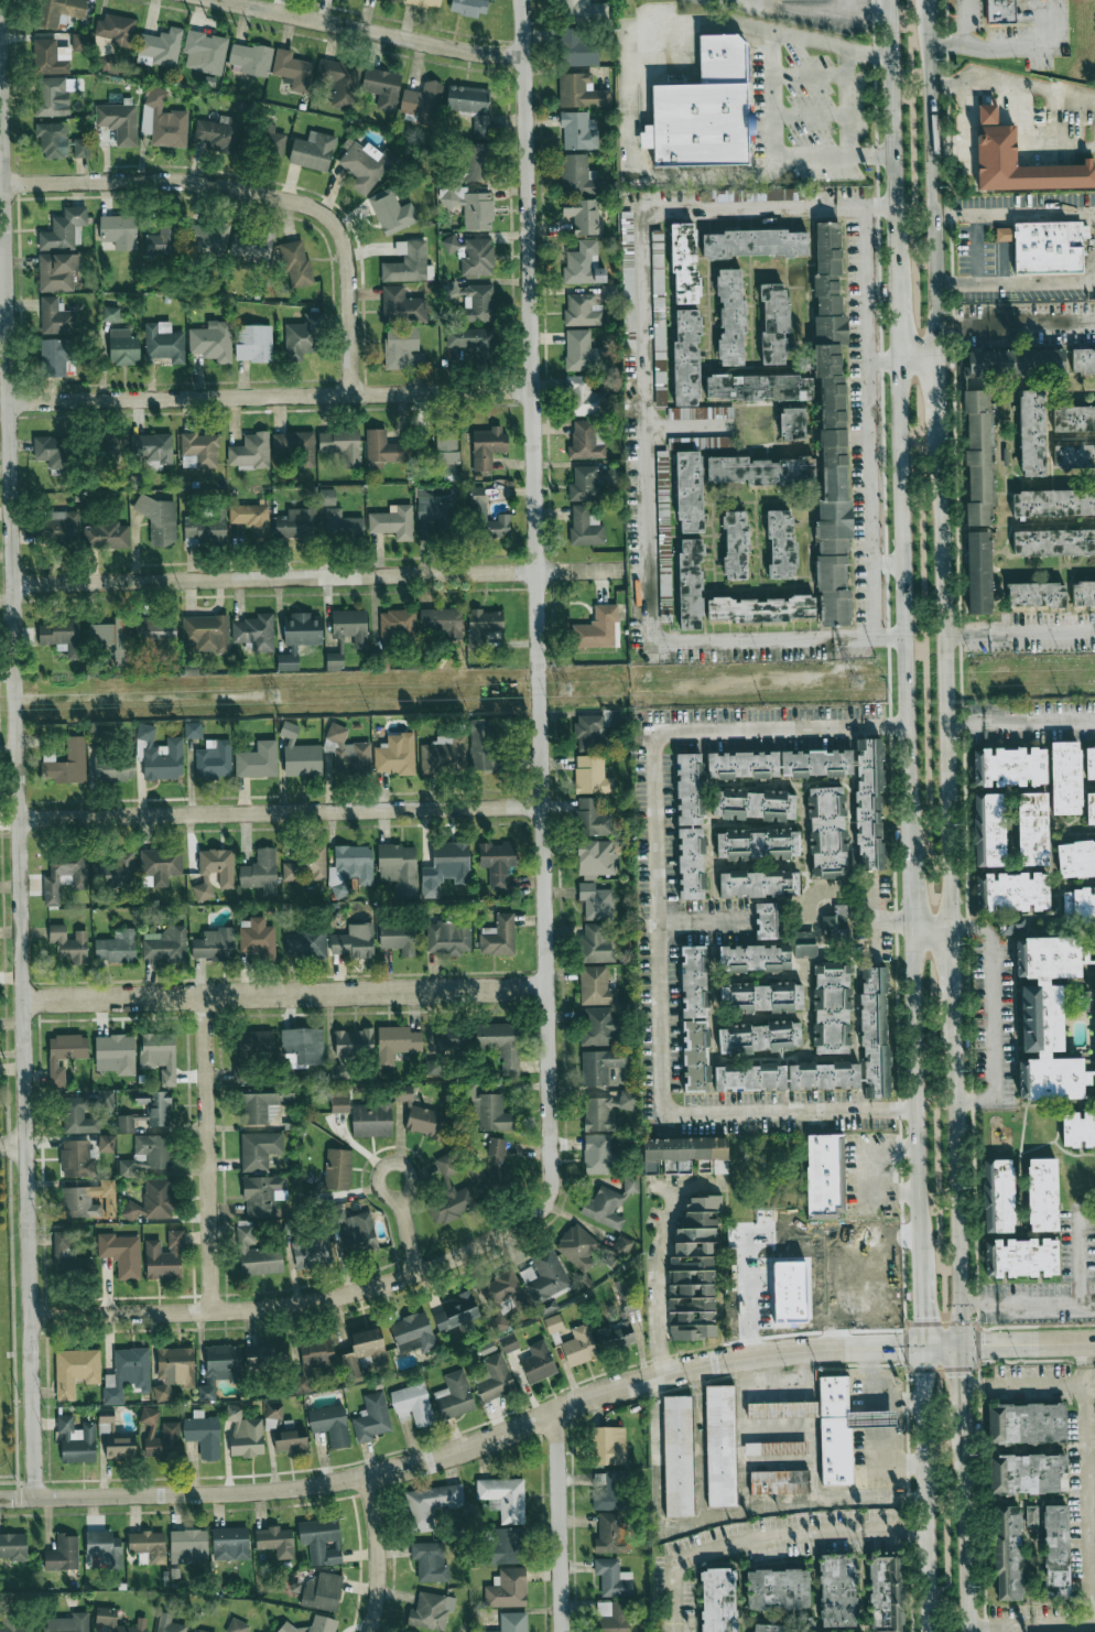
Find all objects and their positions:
building: (398, 0)
building: (425, 2)
road: (848, 4)
road: (754, 6)
building: (469, 7)
building: (59, 10)
road: (835, 10)
building: (583, 11)
building: (1000, 12)
road: (921, 13)
road: (963, 21)
building: (117, 29)
road: (370, 30)
building: (79, 42)
road: (1013, 45)
building: (160, 47)
building: (577, 47)
building: (204, 52)
building: (51, 57)
building: (250, 60)
building: (107, 64)
building: (292, 69)
road: (892, 77)
building: (339, 79)
road: (978, 82)
building: (381, 87)
building: (581, 91)
road: (1060, 93)
building: (53, 96)
building: (467, 98)
building: (422, 104)
road: (629, 109)
building: (703, 109)
building: (163, 120)
building: (119, 122)
building: (480, 126)
building: (577, 131)
road: (965, 131)
building: (218, 133)
building: (53, 139)
building: (273, 142)
building: (996, 144)
road: (1032, 144)
building: (82, 148)
building: (312, 151)
building: (474, 162)
building: (366, 165)
building: (577, 175)
road: (932, 179)
road: (258, 192)
building: (751, 194)
building: (469, 206)
road: (772, 210)
building: (391, 212)
road: (1013, 213)
building: (583, 215)
road: (896, 224)
building: (64, 229)
building: (119, 230)
building: (164, 240)
building: (207, 240)
building: (755, 242)
building: (250, 245)
building: (1045, 246)
road: (976, 249)
building: (471, 255)
building: (408, 262)
building: (296, 263)
building: (583, 263)
building: (684, 263)
building: (57, 271)
building: (628, 283)
road: (1016, 283)
building: (609, 292)
building: (470, 301)
building: (401, 306)
building: (582, 310)
building: (110, 314)
building: (55, 316)
building: (730, 316)
building: (773, 323)
road: (1016, 324)
road: (899, 325)
road: (3, 327)
building: (302, 337)
building: (212, 341)
building: (164, 342)
building: (474, 342)
building: (252, 343)
building: (123, 347)
building: (402, 348)
building: (581, 352)
building: (55, 356)
road: (887, 356)
building: (686, 357)
road: (919, 358)
building: (1083, 360)
building: (1016, 361)
building: (758, 387)
road: (937, 388)
road: (270, 396)
building: (584, 397)
building: (690, 412)
building: (1074, 419)
road: (875, 422)
building: (791, 423)
road: (654, 425)
building: (831, 425)
building: (1032, 432)
building: (585, 442)
building: (110, 445)
building: (341, 445)
building: (445, 445)
building: (295, 446)
building: (487, 446)
building: (384, 447)
building: (153, 448)
building: (200, 448)
building: (51, 451)
building: (250, 451)
building: (1074, 456)
building: (978, 458)
road: (902, 461)
building: (760, 471)
building: (611, 475)
building: (584, 484)
building: (687, 485)
building: (326, 497)
building: (477, 500)
building: (1053, 502)
building: (435, 509)
building: (251, 519)
building: (159, 520)
building: (393, 521)
building: (296, 523)
building: (341, 523)
building: (203, 527)
building: (585, 527)
building: (425, 529)
building: (109, 536)
building: (1053, 542)
building: (735, 544)
building: (781, 544)
road: (891, 561)
building: (978, 572)
road: (318, 576)
building: (690, 584)
building: (1083, 593)
building: (1036, 595)
building: (760, 608)
building: (441, 622)
building: (397, 624)
building: (350, 626)
building: (483, 626)
building: (599, 628)
building: (156, 633)
building: (206, 633)
building: (254, 633)
road: (1019, 633)
building: (61, 635)
building: (299, 636)
road: (768, 637)
building: (112, 639)
building: (334, 661)
road: (945, 670)
road: (535, 676)
power tower: (847, 683)
power tower: (567, 689)
power tower: (275, 694)
road: (908, 699)
road: (1020, 718)
building: (595, 728)
building: (193, 729)
building: (484, 745)
road: (20, 747)
building: (348, 750)
building: (444, 754)
building: (160, 755)
building: (395, 755)
building: (214, 758)
building: (257, 760)
building: (67, 761)
building: (1089, 763)
building: (815, 764)
building: (742, 765)
building: (112, 766)
building: (1009, 767)
building: (588, 774)
building: (1065, 778)
building: (689, 789)
building: (868, 803)
building: (752, 804)
building: (1089, 808)
road: (280, 812)
building: (593, 818)
building: (1032, 829)
building: (989, 830)
building: (827, 832)
building: (757, 844)
building: (595, 858)
building: (1076, 858)
building: (497, 862)
building: (691, 863)
building: (305, 865)
building: (446, 866)
building: (159, 867)
building: (399, 867)
building: (350, 868)
building: (115, 872)
building: (214, 872)
building: (260, 872)
building: (64, 875)
building: (758, 884)
road: (923, 889)
building: (1012, 891)
building: (595, 901)
building: (1078, 905)
building: (768, 920)
building: (835, 920)
road: (870, 920)
road: (892, 921)
road: (659, 922)
road: (704, 923)
building: (498, 936)
building: (256, 937)
building: (397, 937)
building: (448, 937)
building: (355, 941)
building: (597, 942)
building: (68, 943)
building: (163, 944)
building: (214, 944)
building: (305, 944)
building: (804, 944)
building: (117, 947)
building: (754, 959)
road: (953, 961)
road: (942, 964)
building: (693, 982)
building: (595, 986)
road: (284, 995)
building: (763, 996)
building: (1080, 1002)
building: (831, 1008)
road: (991, 1015)
building: (1047, 1018)
building: (599, 1027)
building: (875, 1031)
building: (452, 1037)
building: (759, 1037)
building: (254, 1040)
building: (395, 1042)
building: (500, 1044)
building: (302, 1046)
road: (915, 1048)
building: (349, 1050)
building: (115, 1053)
building: (64, 1056)
building: (159, 1056)
building: (695, 1056)
building: (601, 1066)
building: (243, 1069)
building: (823, 1076)
building: (749, 1078)
building: (403, 1093)
building: (627, 1100)
building: (339, 1102)
building: (261, 1105)
building: (154, 1106)
building: (489, 1112)
building: (599, 1115)
building: (78, 1116)
building: (371, 1120)
building: (425, 1122)
building: (1077, 1130)
building: (106, 1143)
road: (14, 1145)
building: (259, 1149)
building: (148, 1154)
road: (212, 1154)
building: (597, 1154)
building: (680, 1154)
building: (76, 1159)
building: (337, 1169)
building: (492, 1169)
road: (957, 1171)
building: (824, 1175)
building: (631, 1185)
building: (449, 1192)
building: (262, 1195)
building: (1042, 1195)
building: (998, 1196)
building: (84, 1200)
building: (152, 1201)
building: (604, 1208)
road: (406, 1225)
road: (745, 1228)
building: (356, 1232)
building: (621, 1245)
road: (659, 1245)
building: (577, 1246)
building: (311, 1250)
building: (256, 1253)
building: (121, 1254)
building: (68, 1256)
building: (164, 1257)
building: (1021, 1257)
road: (1081, 1261)
road: (880, 1266)
building: (693, 1272)
building: (811, 1288)
building: (505, 1291)
building: (628, 1295)
road: (922, 1303)
road: (1028, 1305)
road: (225, 1309)
building: (458, 1314)
building: (553, 1323)
building: (412, 1333)
building: (616, 1336)
road: (1028, 1342)
building: (508, 1343)
traffic signals: (963, 1344)
building: (578, 1345)
traffic signals: (923, 1345)
building: (361, 1352)
building: (264, 1355)
building: (314, 1362)
building: (538, 1362)
building: (219, 1368)
building: (75, 1370)
building: (173, 1370)
building: (127, 1374)
road: (869, 1377)
building: (495, 1379)
road: (963, 1381)
road: (1023, 1387)
building: (454, 1395)
road: (897, 1398)
building: (412, 1405)
building: (781, 1409)
building: (273, 1411)
building: (371, 1417)
road: (871, 1417)
building: (329, 1424)
building: (1026, 1424)
building: (842, 1427)
building: (171, 1429)
building: (245, 1433)
building: (203, 1435)
road: (741, 1437)
building: (76, 1440)
building: (116, 1440)
building: (290, 1440)
road: (485, 1441)
building: (608, 1445)
road: (698, 1445)
building: (720, 1446)
building: (776, 1448)
building: (679, 1456)
road: (880, 1465)
building: (1027, 1473)
building: (780, 1482)
road: (1086, 1483)
road: (925, 1489)
building: (610, 1492)
building: (503, 1498)
road: (868, 1499)
building: (430, 1504)
building: (1030, 1515)
road: (560, 1523)
road: (966, 1525)
road: (661, 1526)
building: (609, 1533)
road: (796, 1535)
building: (275, 1541)
building: (321, 1541)
building: (229, 1543)
building: (188, 1545)
building: (507, 1545)
building: (13, 1546)
building: (148, 1546)
building: (102, 1549)
building: (1006, 1552)
building: (1055, 1552)
building: (63, 1554)
road: (379, 1554)
building: (430, 1561)
building: (612, 1578)
building: (507, 1588)
building: (777, 1589)
building: (837, 1590)
building: (322, 1591)
building: (885, 1593)
road: (670, 1599)
building: (717, 1600)
building: (432, 1610)
building: (612, 1617)
building: (113, 1621)
building: (512, 1622)
building: (67, 1623)
building: (15, 1624)
building: (172, 1624)
building: (237, 1625)
building: (312, 1625)
road: (988, 1626)
road: (1051, 1626)
building: (768, 1628)
road: (1008, 1629)

